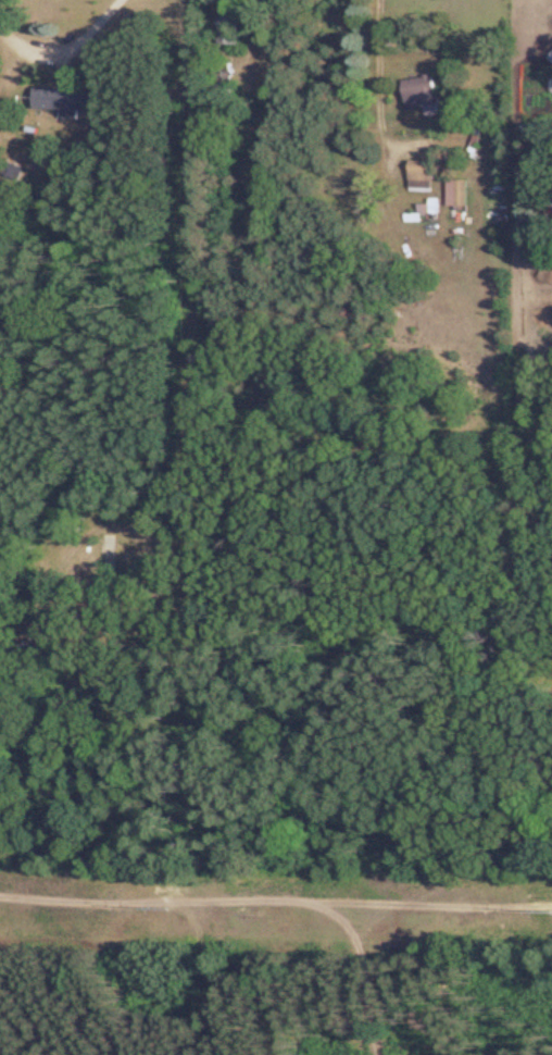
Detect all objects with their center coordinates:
building: (418, 95)
building: (418, 174)

